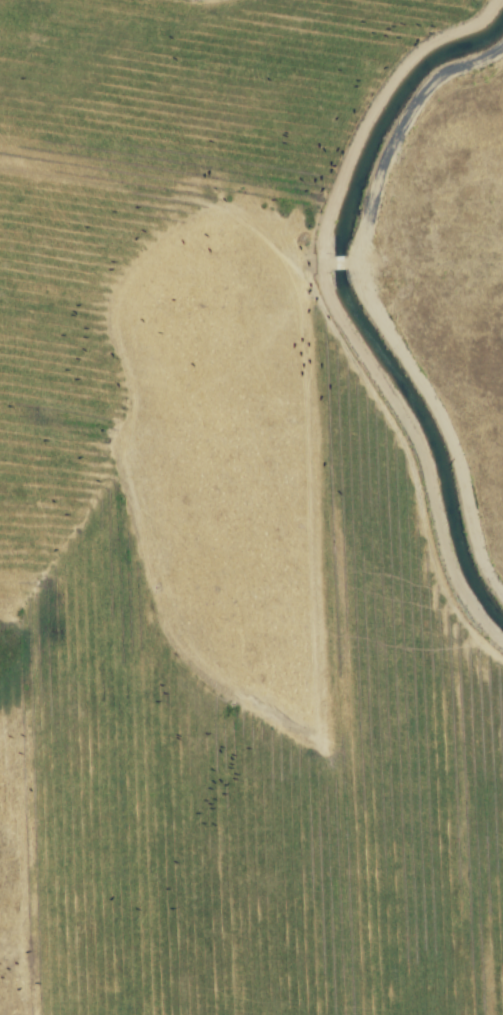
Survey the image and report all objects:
river: (345, 300)
crop: (251, 508)

